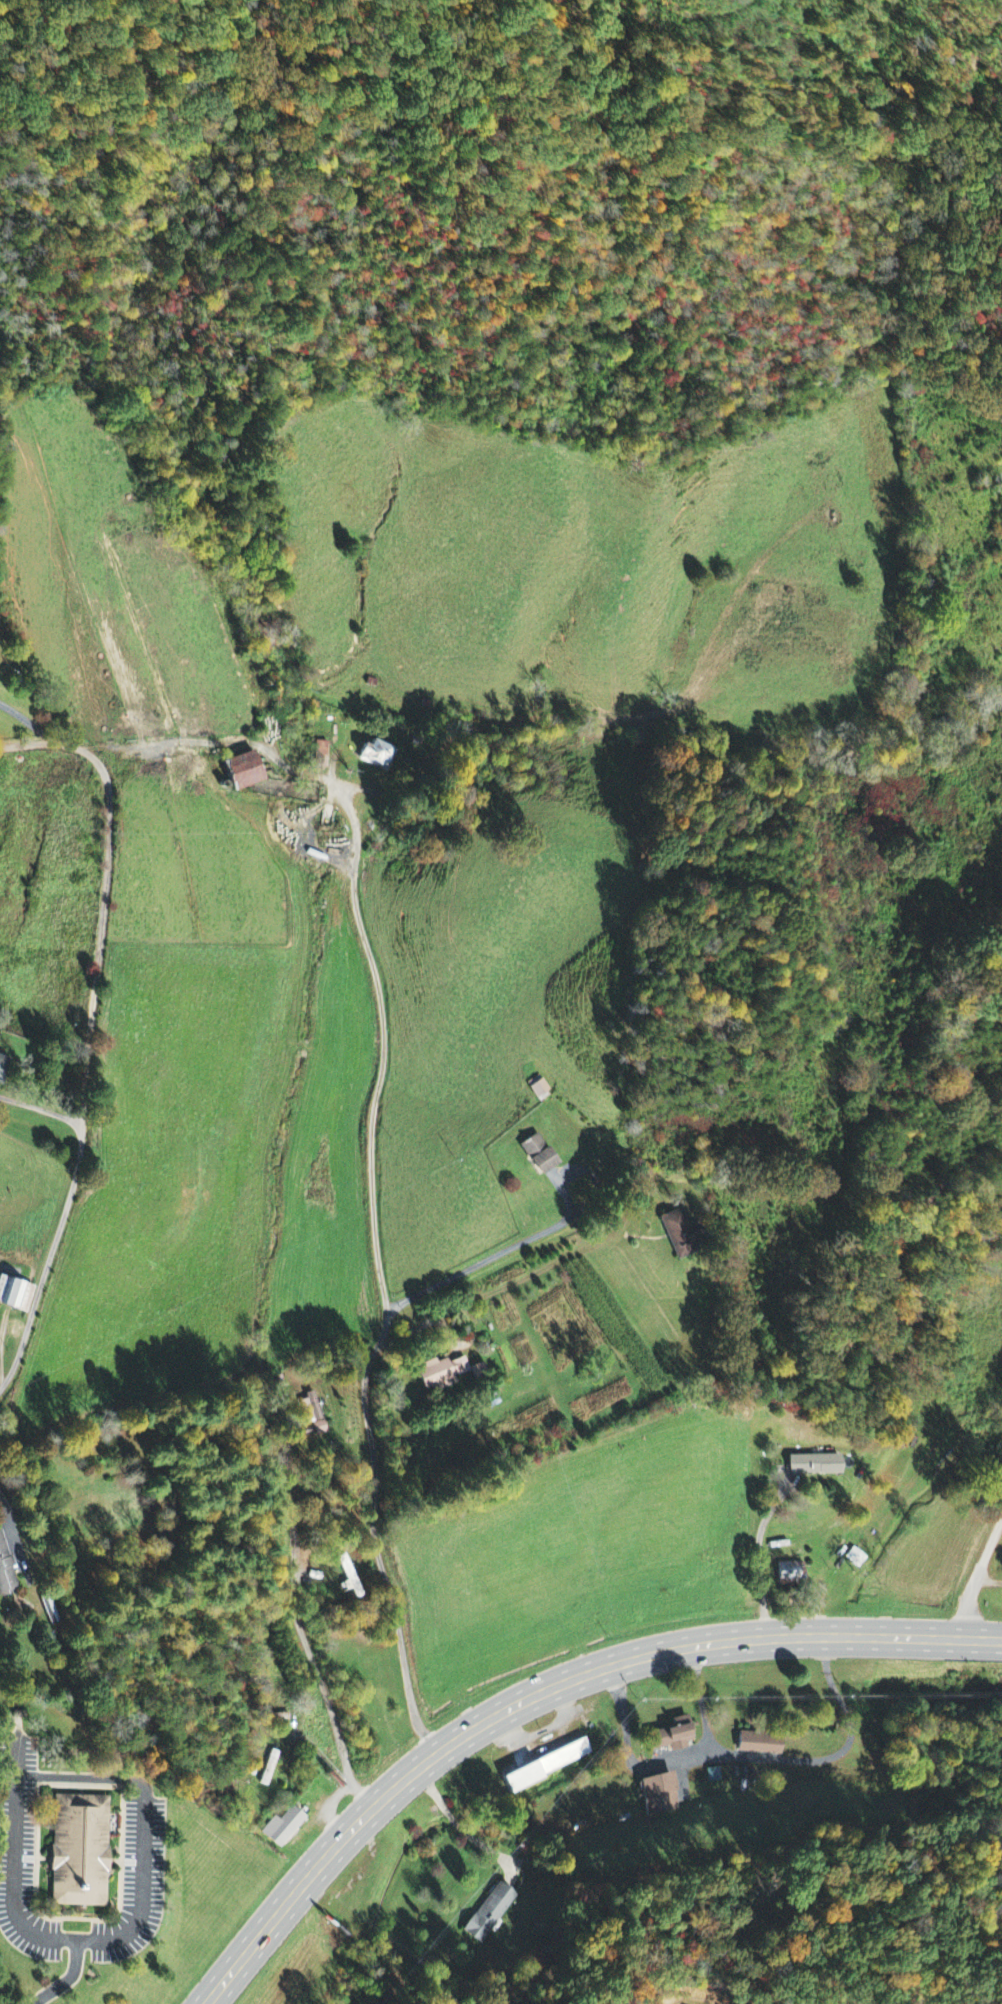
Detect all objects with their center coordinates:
building: (321, 754)
building: (376, 756)
building: (241, 771)
road: (81, 1019)
road: (380, 1056)
building: (0, 1060)
building: (539, 1089)
building: (537, 1155)
building: (681, 1235)
building: (14, 1296)
building: (478, 1373)
building: (440, 1374)
building: (312, 1414)
road: (366, 1421)
building: (813, 1466)
road: (11, 1524)
road: (979, 1574)
building: (789, 1575)
park: (995, 1585)
road: (982, 1640)
road: (526, 1699)
building: (672, 1737)
building: (759, 1745)
building: (546, 1767)
building: (713, 1776)
building: (659, 1796)
building: (286, 1830)
building: (78, 1852)
building: (488, 1914)

